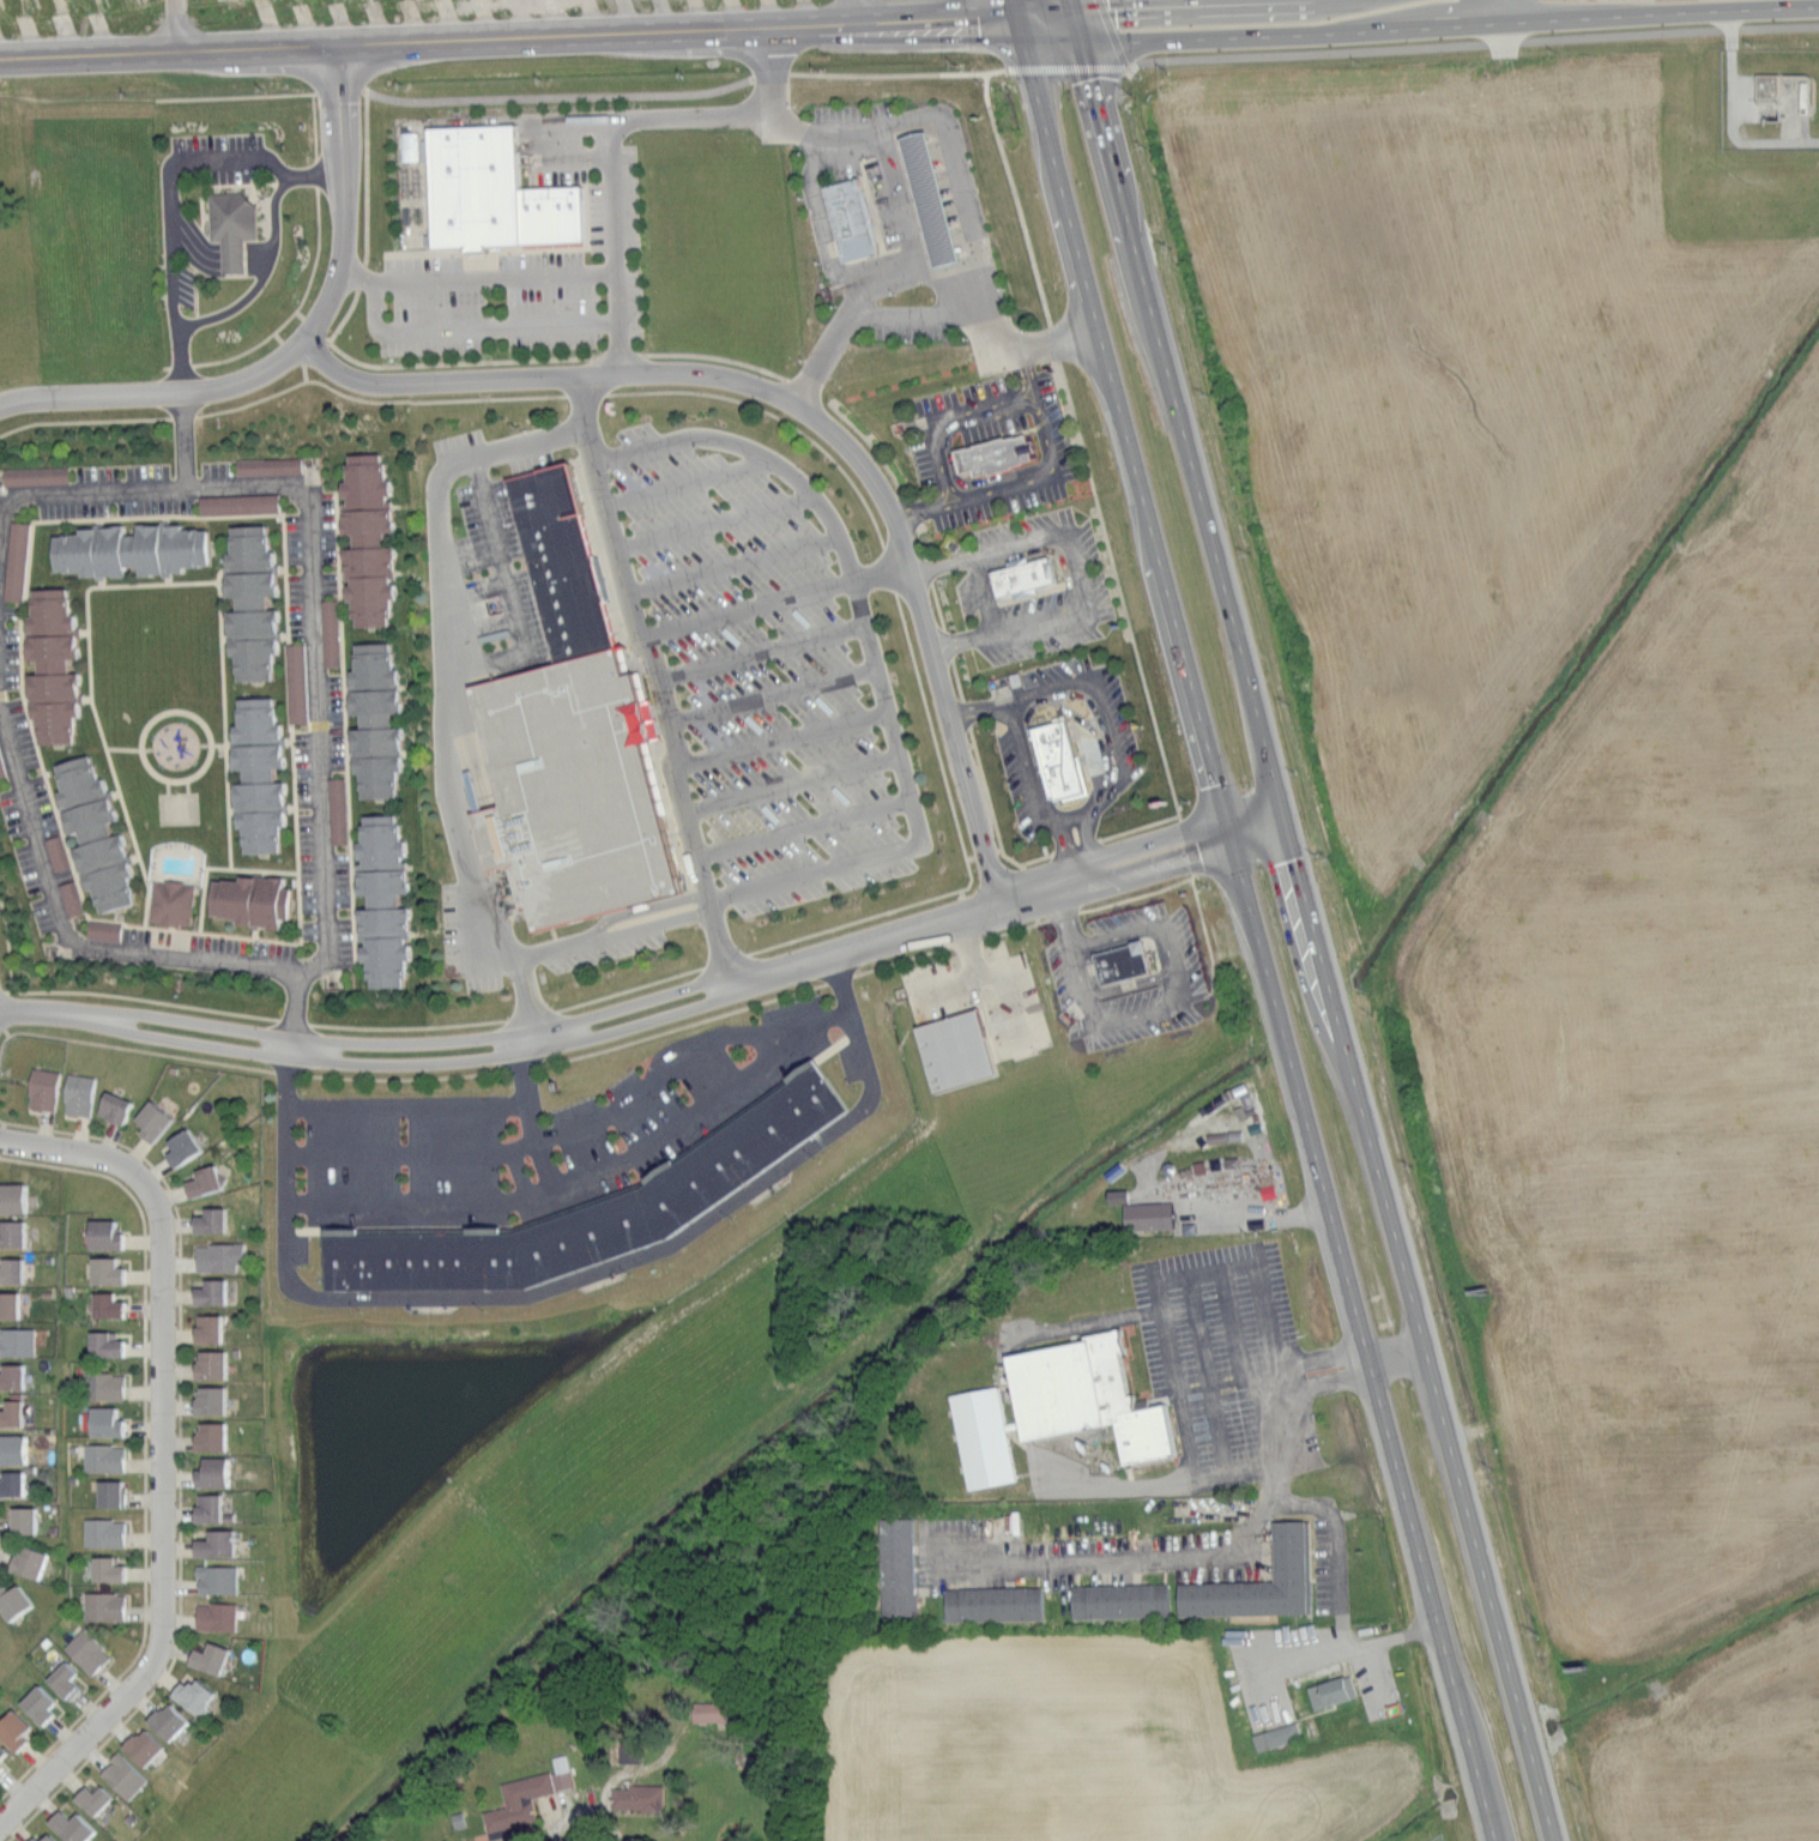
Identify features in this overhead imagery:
road: (1016, 7)
road: (1032, 7)
road: (1501, 11)
road: (860, 13)
traffic signals: (1019, 14)
road: (1416, 24)
road: (179, 30)
traffic signals: (1080, 35)
road: (1471, 40)
road: (509, 47)
road: (965, 54)
road: (876, 72)
building: (1764, 84)
road: (555, 95)
road: (168, 96)
road: (694, 120)
road: (786, 123)
road: (314, 133)
road: (913, 137)
building: (406, 145)
parking lot: (222, 156)
road: (236, 158)
road: (919, 158)
road: (576, 161)
road: (368, 176)
building: (478, 185)
road: (217, 186)
road: (253, 186)
road: (926, 186)
road: (961, 188)
road: (1015, 198)
building: (935, 199)
road: (895, 203)
road: (173, 210)
building: (555, 213)
road: (933, 213)
road: (821, 218)
building: (853, 218)
parking lot: (853, 218)
building: (237, 224)
parking lot: (898, 224)
road: (939, 237)
road: (211, 249)
road: (615, 249)
road: (485, 251)
road: (943, 255)
road: (211, 258)
road: (211, 267)
parking lot: (533, 270)
road: (871, 278)
road: (498, 279)
parking lot: (180, 280)
road: (261, 282)
road: (980, 283)
road: (379, 284)
road: (950, 285)
road: (173, 291)
road: (195, 294)
road: (301, 301)
road: (346, 315)
road: (933, 315)
road: (498, 327)
road: (296, 351)
road: (714, 355)
road: (457, 361)
road: (300, 382)
road: (425, 400)
road: (246, 403)
road: (1031, 405)
road: (775, 416)
road: (815, 416)
road: (181, 443)
road: (874, 446)
parking lot: (991, 447)
building: (998, 455)
parking lot: (998, 457)
building: (272, 466)
building: (40, 477)
road: (1197, 482)
road: (683, 483)
building: (243, 505)
road: (923, 509)
road: (1146, 512)
road: (712, 521)
road: (921, 533)
building: (374, 542)
building: (135, 551)
road: (501, 560)
building: (19, 562)
road: (732, 562)
road: (1076, 562)
building: (567, 563)
road: (939, 565)
road: (881, 574)
building: (1028, 577)
parking lot: (1027, 579)
parking lot: (1034, 586)
road: (984, 593)
road: (220, 603)
building: (258, 603)
road: (937, 604)
road: (457, 606)
road: (747, 606)
road: (1130, 626)
building: (334, 634)
road: (962, 639)
road: (759, 651)
road: (872, 656)
road: (501, 666)
building: (58, 668)
parking lot: (768, 668)
road: (957, 677)
road: (443, 680)
building: (300, 683)
road: (654, 686)
road: (1046, 686)
road: (770, 695)
road: (980, 708)
building: (381, 722)
road: (781, 742)
road: (210, 743)
road: (213, 744)
parking lot: (1056, 748)
road: (129, 749)
building: (1062, 755)
parking lot: (1062, 762)
building: (2, 766)
building: (264, 775)
road: (791, 780)
building: (578, 791)
crop: (1571, 810)
building: (340, 813)
road: (992, 815)
road: (324, 817)
traffic signals: (1287, 817)
road: (1075, 820)
road: (803, 831)
traffic signals: (1225, 833)
building: (101, 837)
road: (963, 850)
building: (59, 855)
road: (278, 870)
road: (469, 876)
road: (1034, 895)
building: (72, 900)
building: (258, 901)
building: (389, 903)
building: (174, 906)
road: (1064, 916)
road: (466, 928)
building: (108, 932)
road: (611, 934)
road: (143, 940)
road: (200, 946)
road: (1176, 960)
road: (489, 962)
building: (1129, 964)
road: (991, 978)
road: (1084, 984)
road: (631, 989)
road: (1330, 989)
road: (657, 998)
road: (295, 1003)
road: (50, 1013)
road: (664, 1015)
road: (197, 1021)
road: (409, 1026)
road: (1280, 1033)
road: (538, 1037)
road: (194, 1043)
road: (413, 1043)
road: (128, 1048)
road: (292, 1048)
building: (962, 1050)
road: (418, 1064)
building: (47, 1089)
building: (83, 1095)
building: (120, 1106)
road: (406, 1106)
building: (161, 1121)
road: (527, 1123)
road: (557, 1130)
building: (187, 1147)
building: (209, 1182)
road: (546, 1190)
building: (1114, 1194)
building: (17, 1200)
building: (597, 1212)
road: (1264, 1213)
building: (1153, 1218)
building: (216, 1220)
building: (16, 1235)
building: (110, 1236)
building: (223, 1258)
building: (113, 1269)
building: (14, 1270)
building: (218, 1292)
road: (1161, 1299)
building: (12, 1305)
building: (114, 1305)
building: (214, 1329)
building: (18, 1341)
building: (111, 1344)
road: (1240, 1360)
building: (217, 1365)
road: (1202, 1365)
road: (1428, 1368)
building: (16, 1376)
building: (113, 1386)
building: (216, 1400)
building: (1094, 1400)
road: (1379, 1405)
building: (16, 1413)
building: (111, 1422)
building: (216, 1436)
building: (987, 1441)
building: (17, 1448)
road: (181, 1450)
road: (145, 1453)
road: (164, 1455)
building: (108, 1459)
building: (217, 1473)
building: (14, 1481)
building: (115, 1495)
building: (213, 1508)
building: (28, 1521)
building: (108, 1534)
road: (1243, 1541)
building: (222, 1544)
road: (1, 1552)
building: (35, 1562)
building: (905, 1569)
building: (114, 1570)
building: (222, 1579)
building: (1264, 1585)
building: (17, 1600)
building: (1125, 1602)
building: (108, 1606)
building: (998, 1606)
building: (220, 1617)
road: (1353, 1650)
building: (92, 1653)
building: (216, 1659)
building: (71, 1682)
building: (1335, 1694)
building: (201, 1696)
building: (46, 1707)
building: (707, 1710)
building: (174, 1721)
building: (20, 1730)
building: (1286, 1736)
road: (1533, 1746)
building: (149, 1748)
building: (627, 1751)
building: (4, 1757)
road: (1480, 1774)
building: (127, 1777)
building: (525, 1794)
building: (634, 1797)
building: (101, 1800)
road: (1548, 1806)
road: (588, 1816)
road: (1492, 1817)
building: (77, 1825)
building: (38, 1837)
building: (49, 1837)

